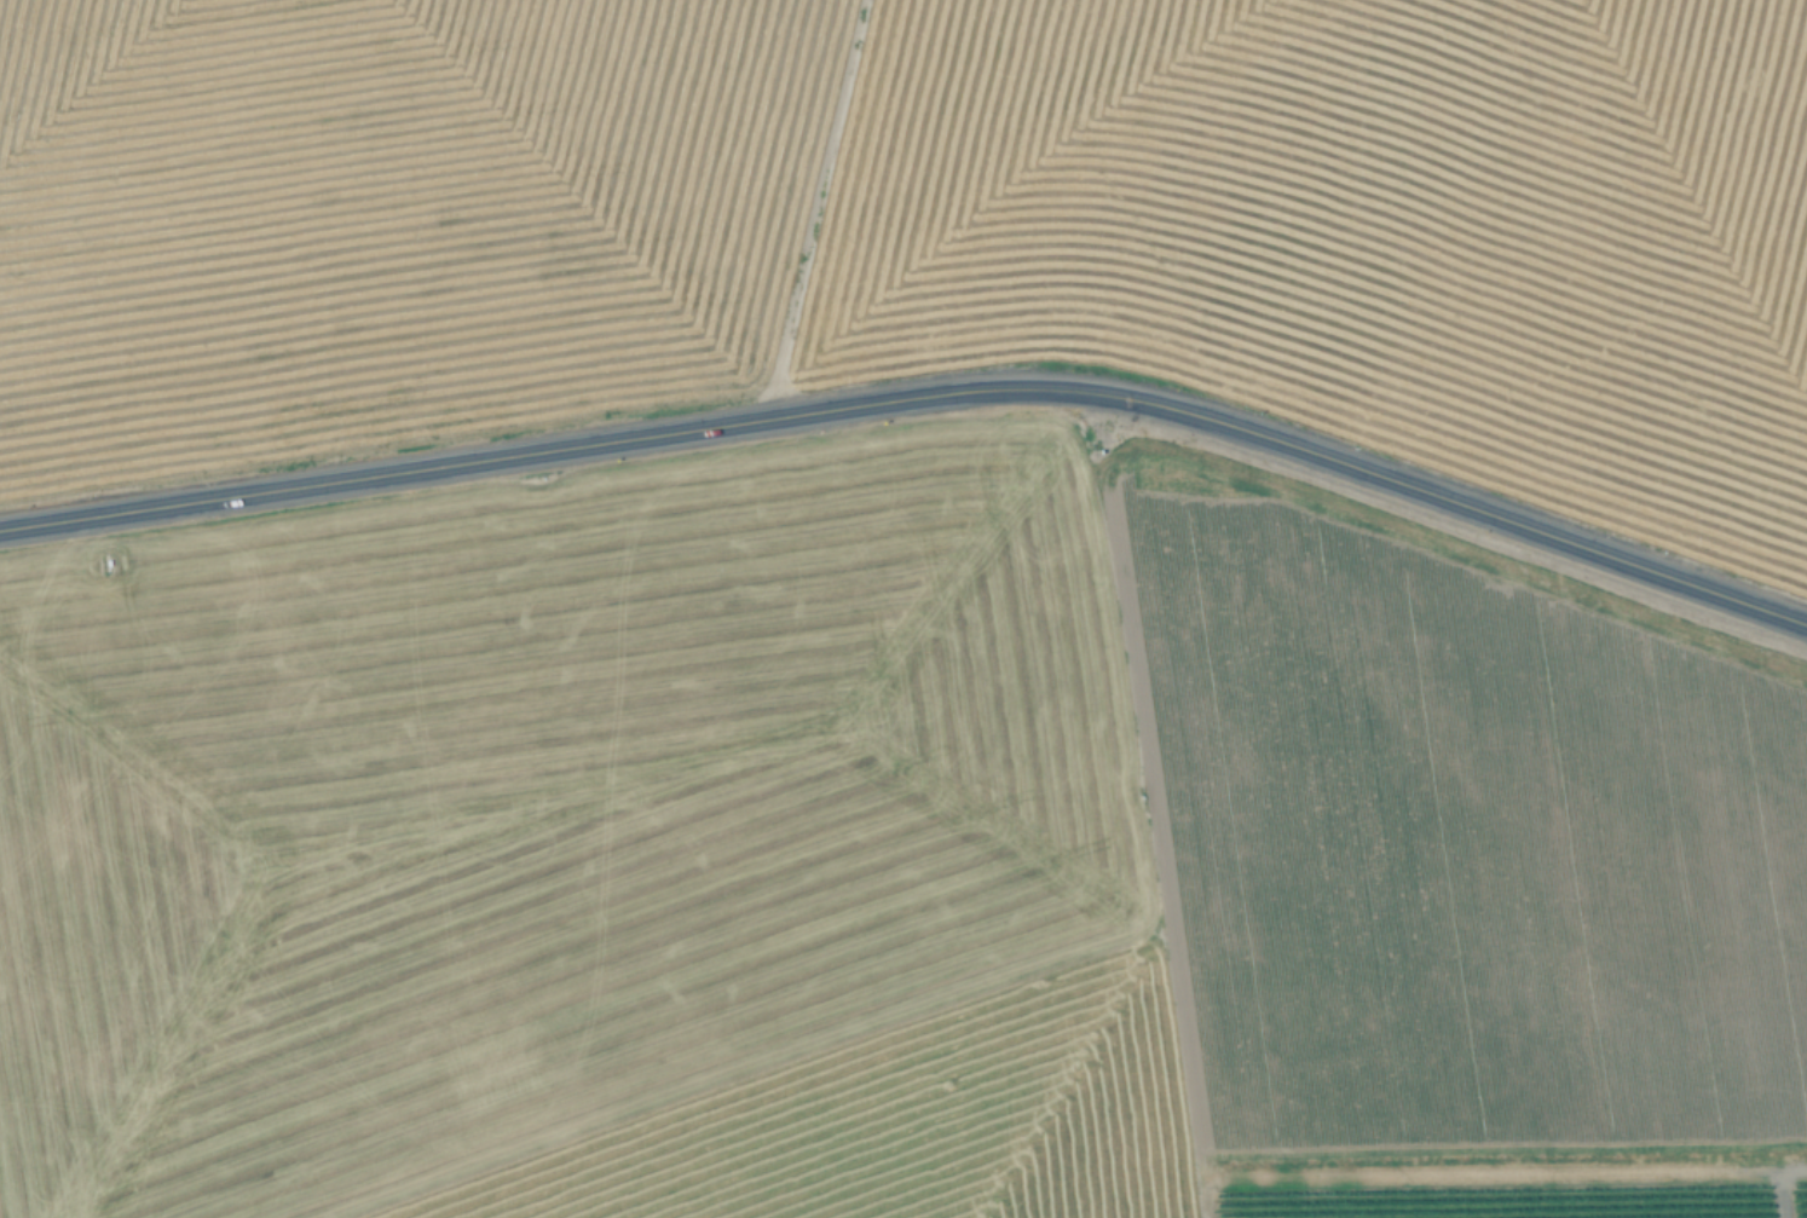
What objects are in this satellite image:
crop: (918, 226)
road: (552, 446)
road: (1457, 500)
road: (1144, 796)
crop: (893, 868)
road: (1499, 1174)
road: (1779, 1194)
road: (1206, 1210)

